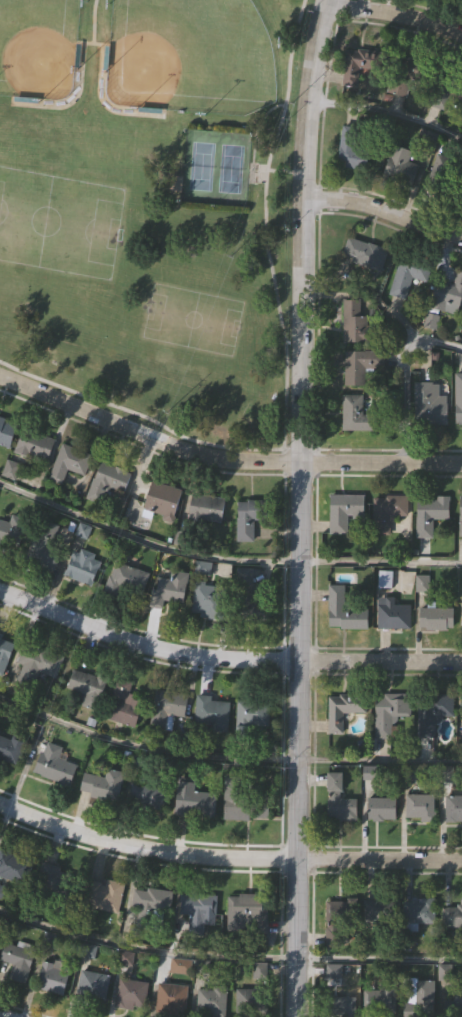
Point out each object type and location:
road: (394, 11)
road: (92, 21)
park: (38, 47)
park: (190, 56)
building: (358, 67)
building: (405, 74)
building: (444, 93)
road: (385, 111)
road: (256, 126)
building: (360, 149)
building: (400, 165)
park: (202, 166)
park: (231, 168)
road: (277, 172)
park: (150, 206)
road: (384, 209)
building: (363, 254)
building: (407, 275)
building: (448, 295)
building: (358, 330)
building: (359, 365)
road: (285, 371)
road: (403, 372)
building: (458, 399)
building: (429, 404)
building: (355, 414)
road: (145, 430)
building: (6, 431)
building: (35, 444)
road: (281, 455)
road: (380, 460)
building: (69, 462)
building: (107, 480)
building: (162, 500)
building: (207, 507)
road: (297, 507)
building: (344, 511)
building: (386, 512)
building: (430, 513)
building: (251, 515)
building: (460, 515)
building: (11, 534)
building: (46, 546)
road: (224, 557)
building: (83, 565)
building: (126, 580)
building: (169, 588)
building: (208, 598)
building: (249, 604)
building: (343, 611)
building: (391, 614)
building: (436, 617)
building: (461, 618)
building: (5, 650)
road: (225, 657)
building: (37, 664)
building: (88, 686)
building: (123, 703)
building: (166, 706)
building: (342, 709)
building: (431, 711)
building: (389, 712)
building: (211, 713)
building: (251, 715)
building: (9, 749)
road: (225, 761)
building: (54, 764)
building: (102, 784)
building: (147, 796)
building: (193, 800)
building: (339, 800)
building: (246, 804)
building: (381, 808)
building: (420, 808)
building: (453, 808)
road: (226, 855)
building: (14, 864)
building: (55, 879)
building: (104, 894)
road: (130, 895)
building: (151, 902)
building: (197, 904)
building: (379, 910)
building: (246, 911)
building: (419, 912)
building: (452, 916)
building: (337, 921)
road: (145, 949)
building: (17, 961)
road: (378, 961)
building: (333, 972)
building: (53, 976)
building: (93, 985)
building: (131, 994)
building: (172, 997)
building: (418, 997)
building: (211, 1001)
building: (379, 1001)
building: (453, 1001)
building: (251, 1002)
building: (341, 1006)
road: (2, 1016)

